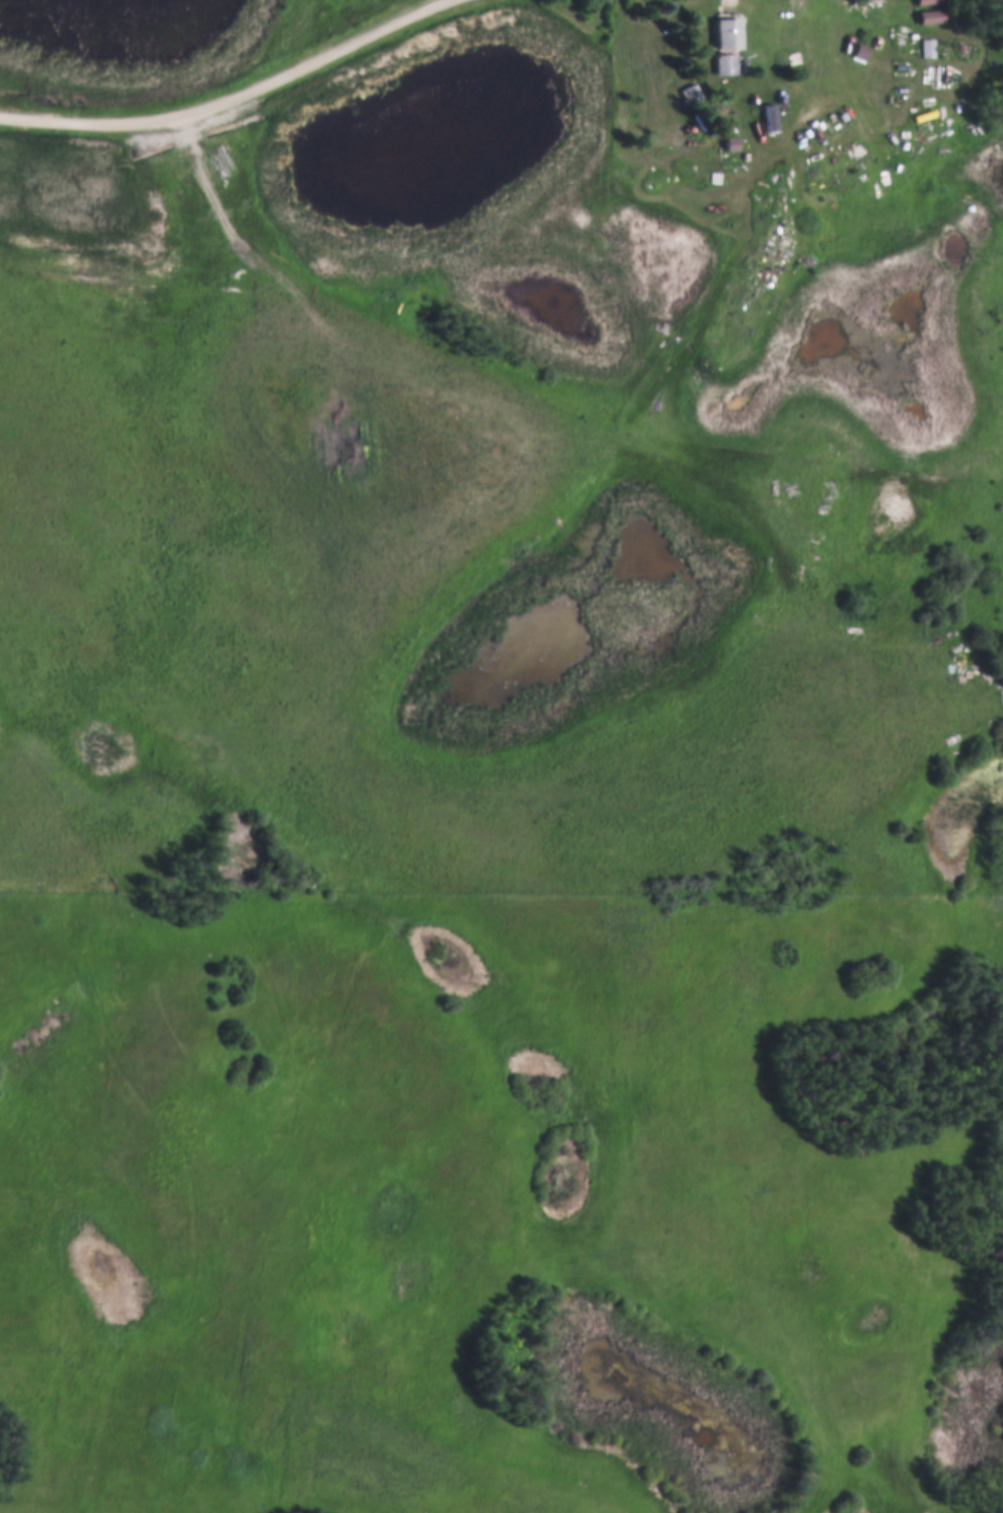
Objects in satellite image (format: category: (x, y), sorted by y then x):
building: (725, 31)
building: (927, 45)
building: (723, 61)
building: (690, 90)
road: (232, 98)
building: (768, 114)

